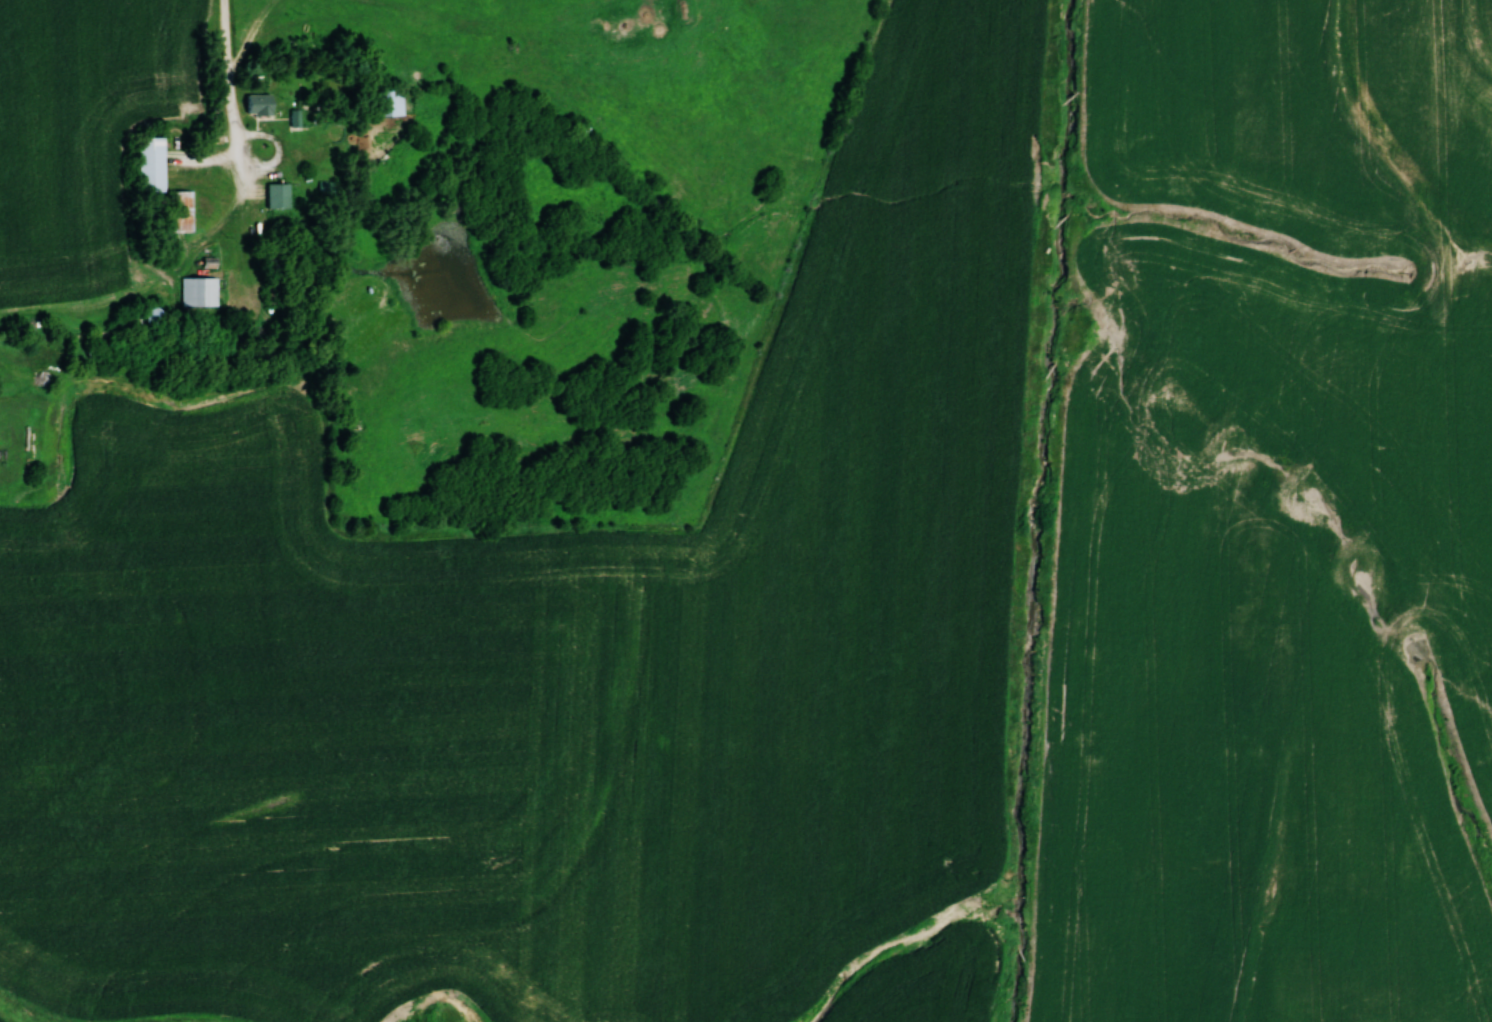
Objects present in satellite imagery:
building: (388, 102)
building: (257, 105)
building: (148, 165)
building: (277, 196)
building: (180, 211)
building: (197, 291)
building: (147, 315)
building: (248, 335)

